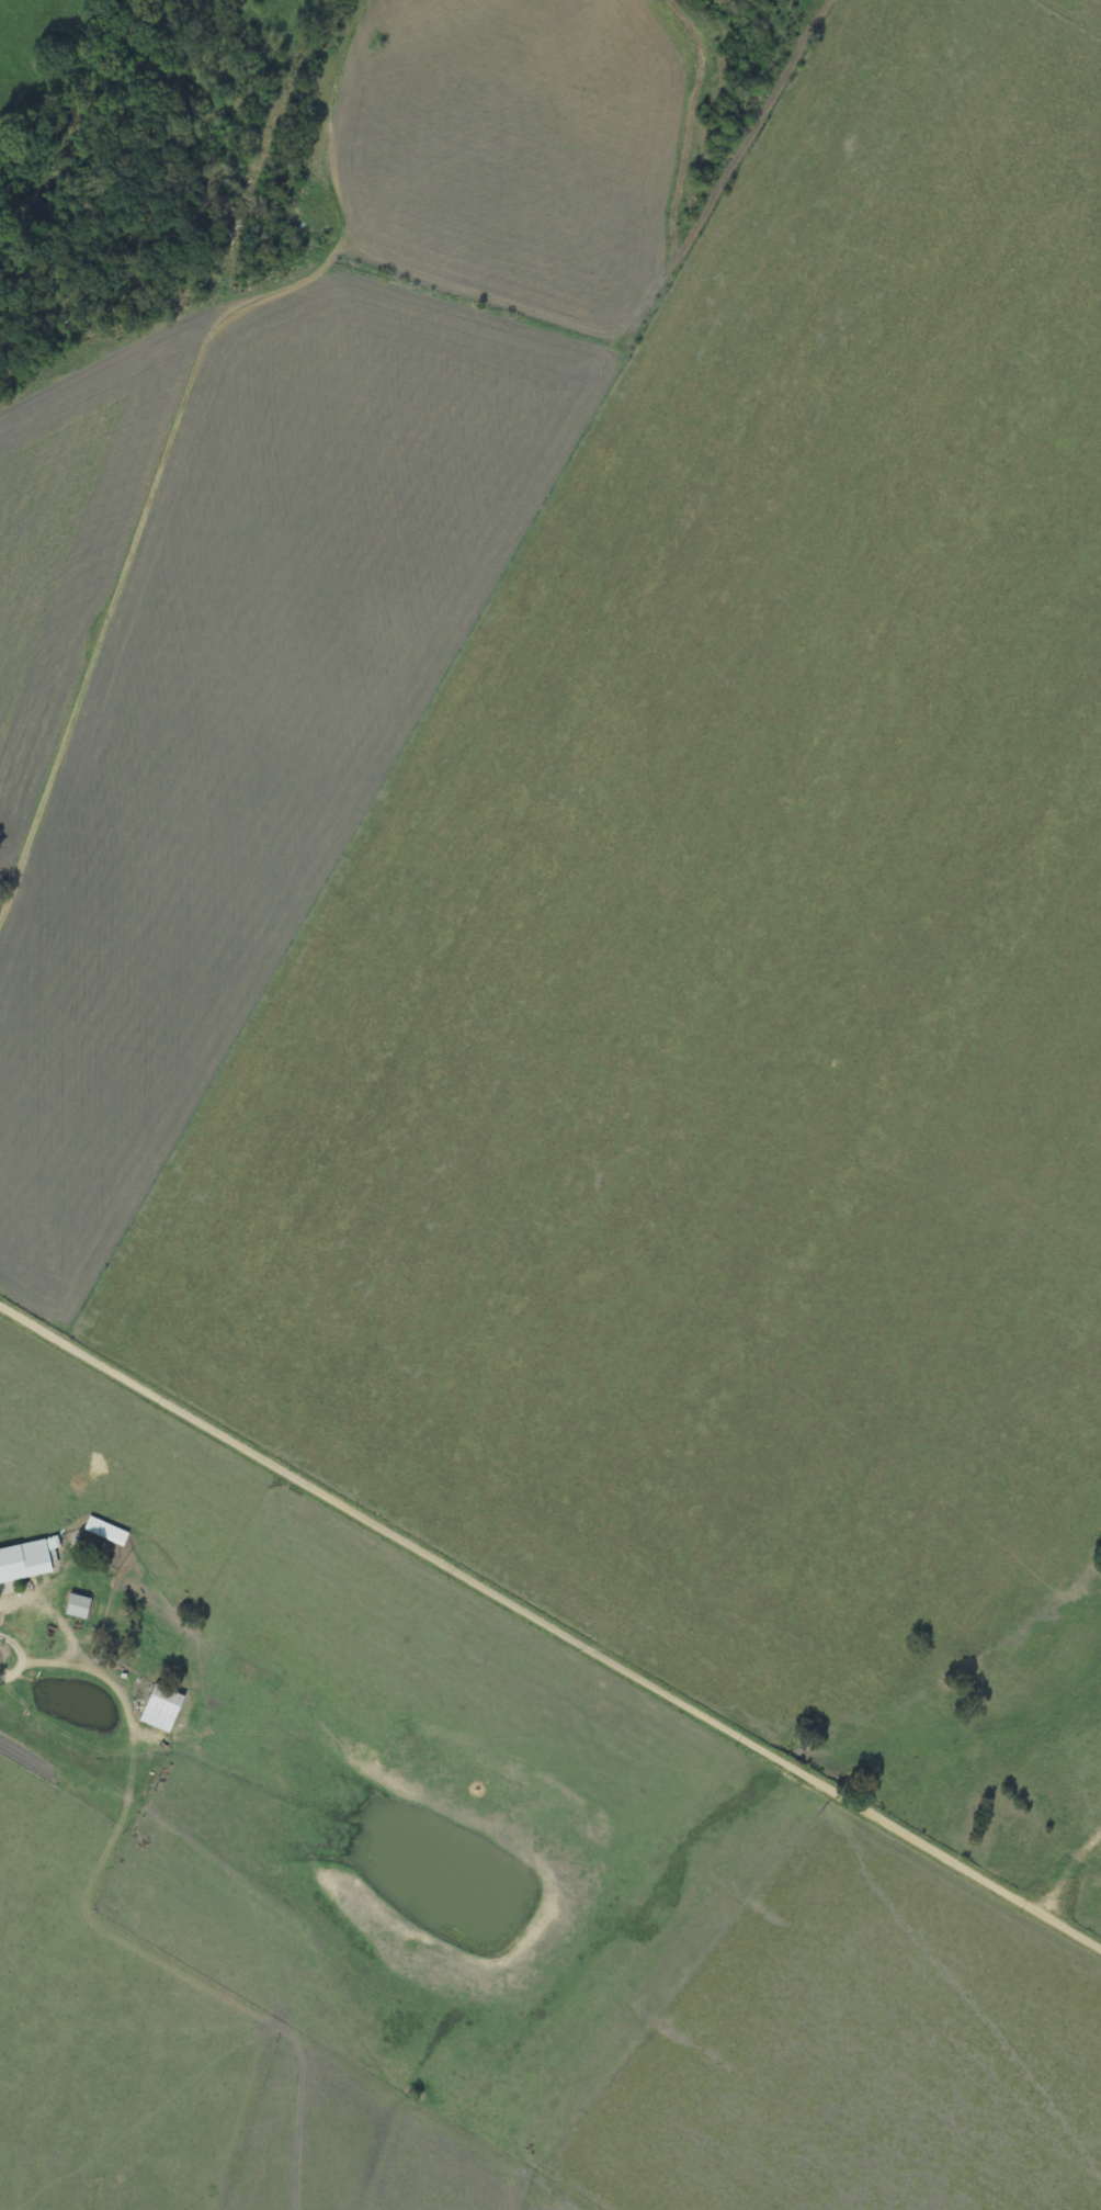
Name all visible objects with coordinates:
building: (109, 1532)
building: (80, 1606)
road: (550, 1619)
building: (164, 1709)

